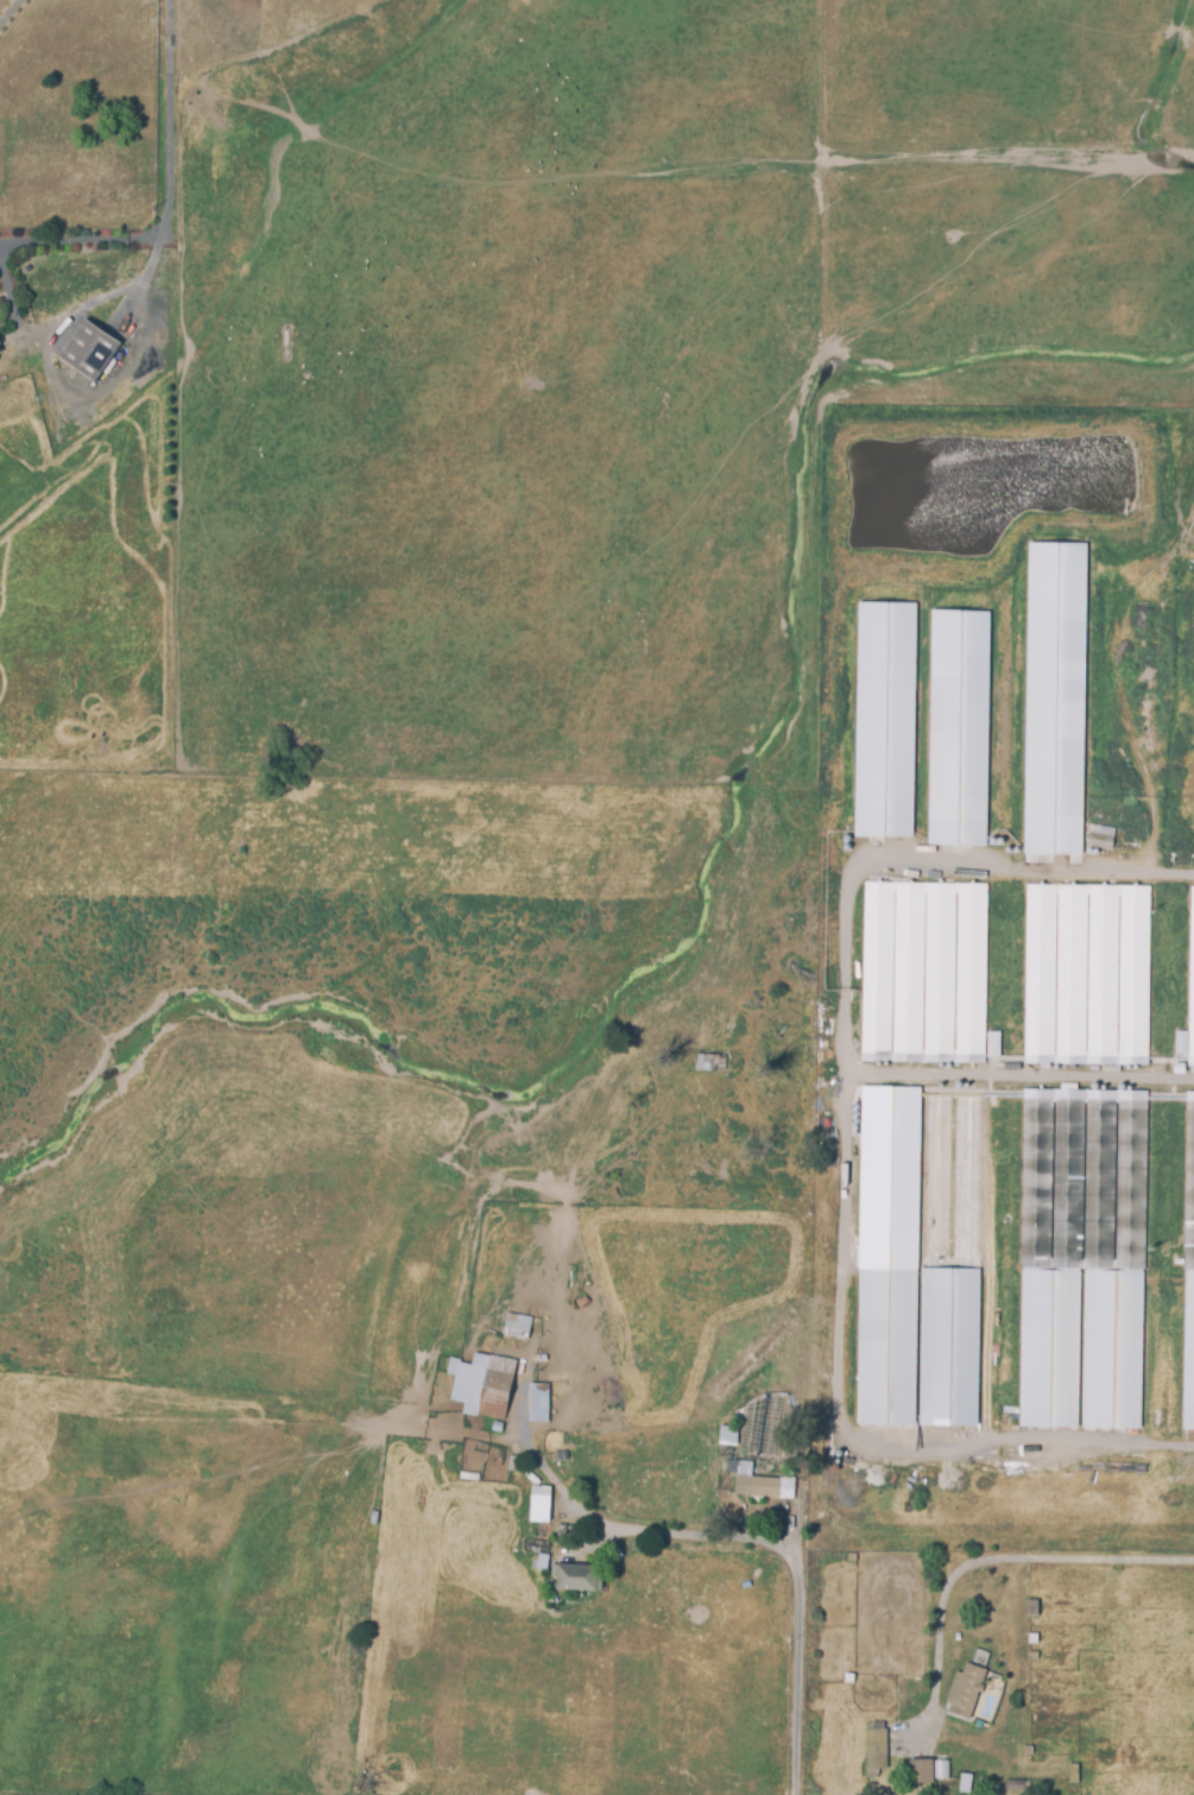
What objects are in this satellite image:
road: (10, 10)
road: (166, 116)
road: (77, 241)
road: (138, 282)
building: (87, 349)
building: (1054, 700)
building: (882, 721)
building: (958, 728)
building: (1099, 840)
building: (925, 973)
building: (1087, 973)
building: (1192, 985)
building: (710, 1060)
road: (840, 1158)
building: (920, 1178)
building: (1084, 1178)
building: (1189, 1184)
building: (516, 1325)
building: (885, 1348)
building: (948, 1351)
building: (1048, 1351)
building: (1112, 1352)
building: (1187, 1358)
building: (479, 1380)
building: (537, 1404)
road: (519, 1424)
building: (727, 1436)
building: (512, 1464)
building: (759, 1484)
building: (538, 1503)
building: (500, 1506)
road: (653, 1532)
road: (983, 1560)
building: (576, 1575)
road: (795, 1670)
road: (1012, 1680)
building: (964, 1692)
building: (873, 1750)
building: (918, 1775)

